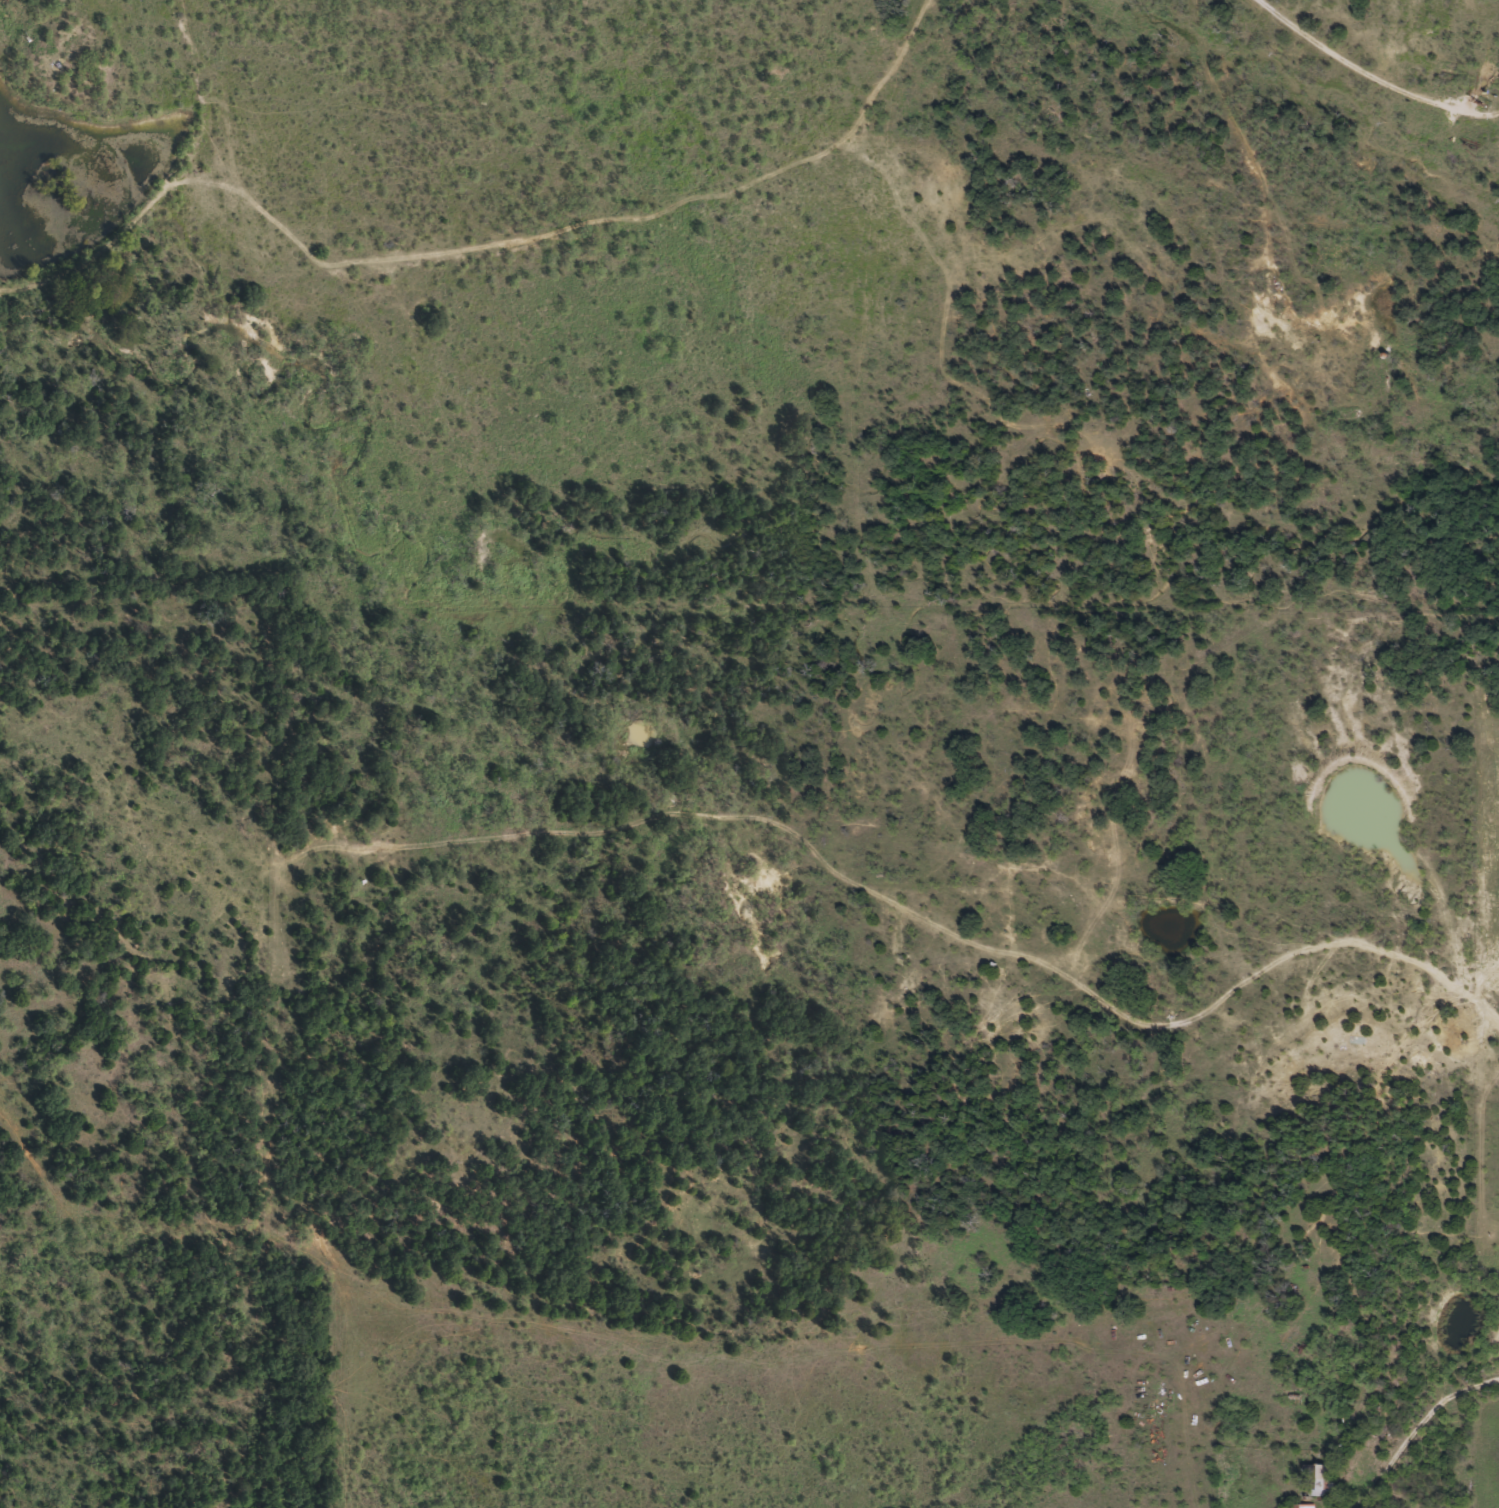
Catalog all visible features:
building: (1321, 1481)
building: (1306, 1507)

